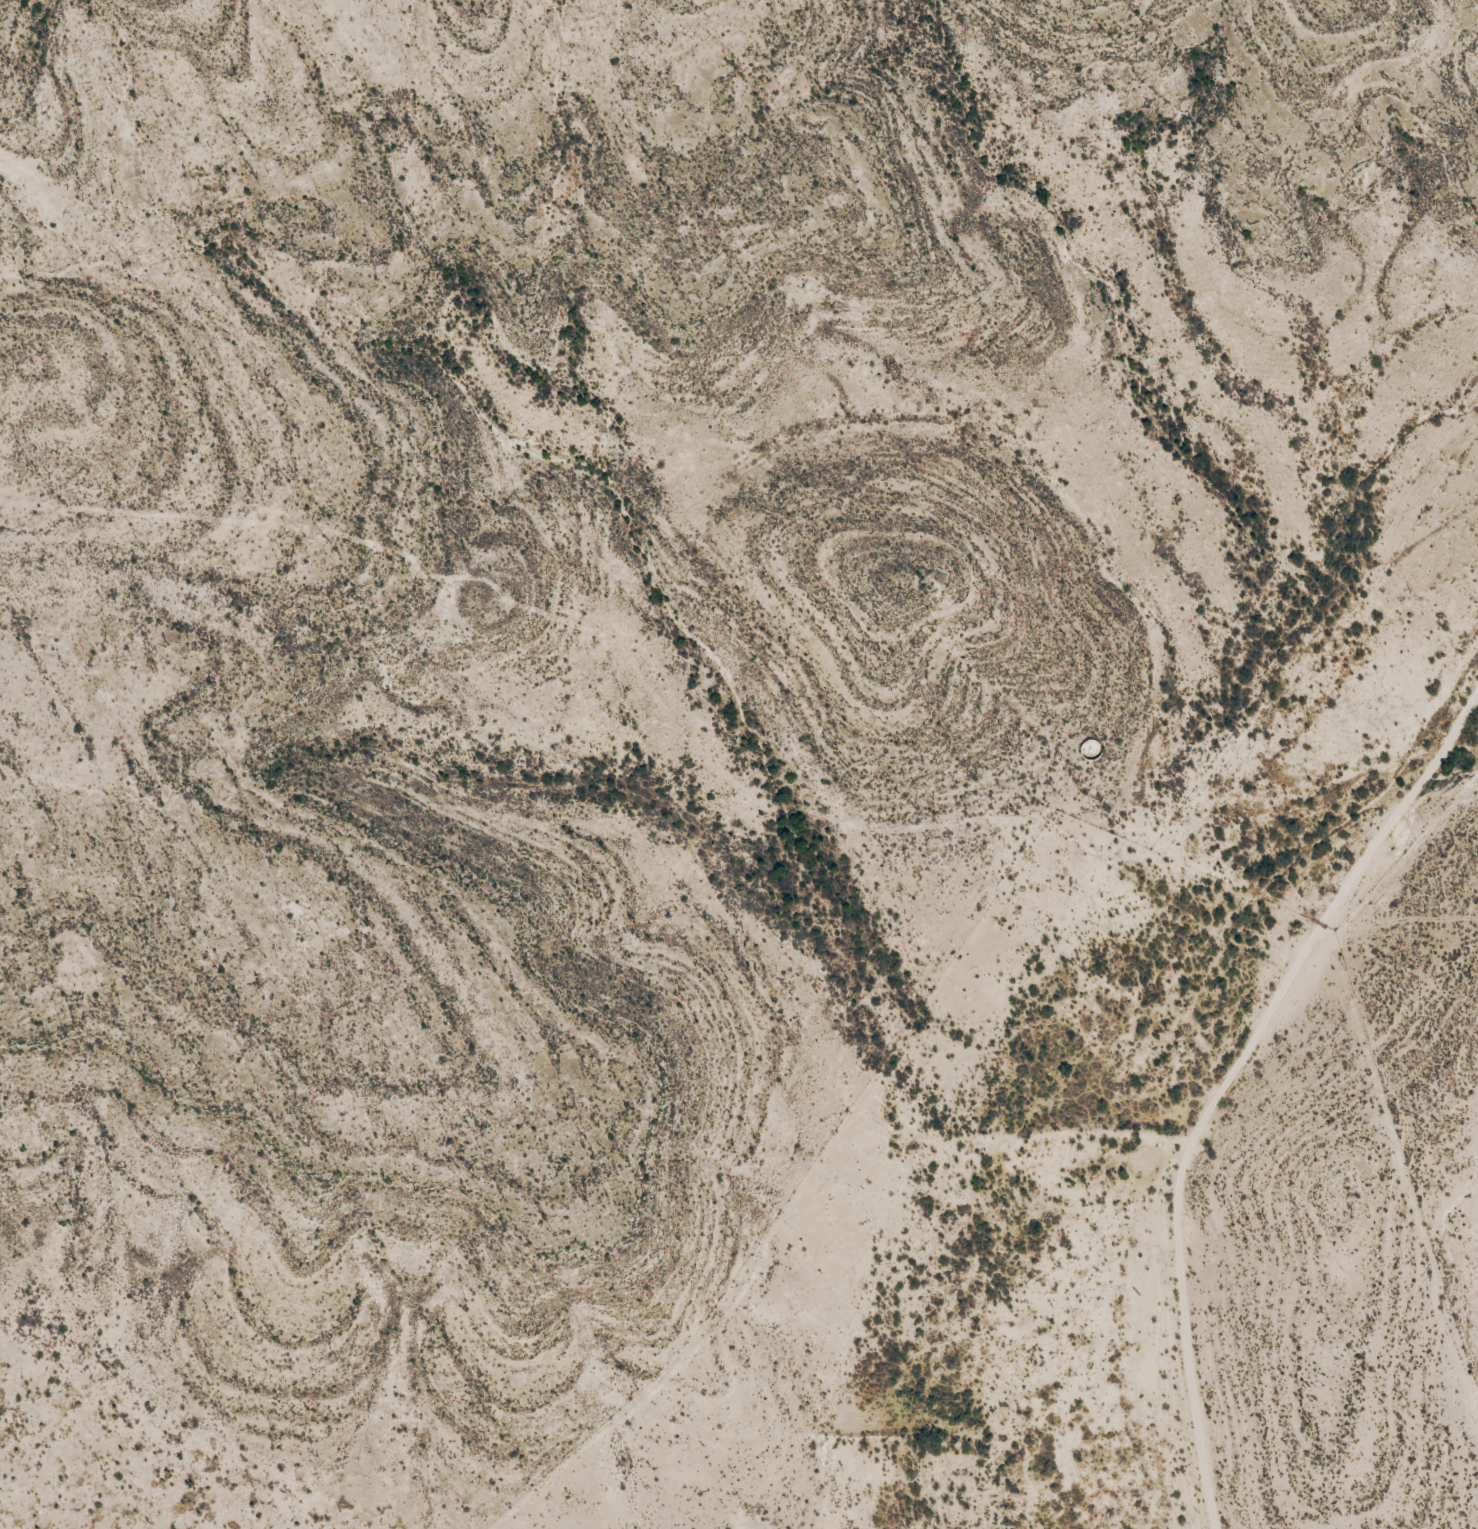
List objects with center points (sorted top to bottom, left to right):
road: (1249, 1086)

